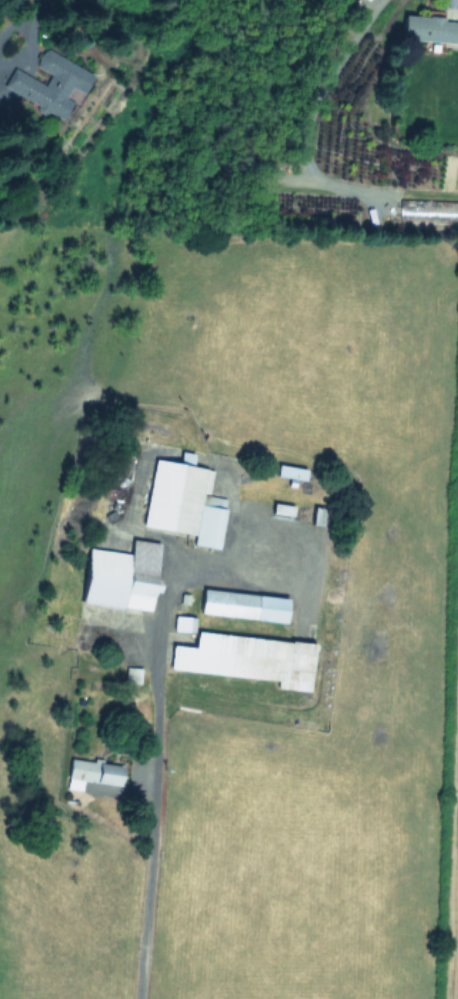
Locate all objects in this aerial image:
building: (430, 28)
building: (48, 83)
building: (428, 210)
building: (290, 472)
building: (184, 501)
building: (122, 576)
building: (243, 605)
crop: (226, 621)
building: (184, 623)
road: (158, 644)
building: (239, 657)
building: (132, 675)
building: (92, 774)
road: (146, 900)

